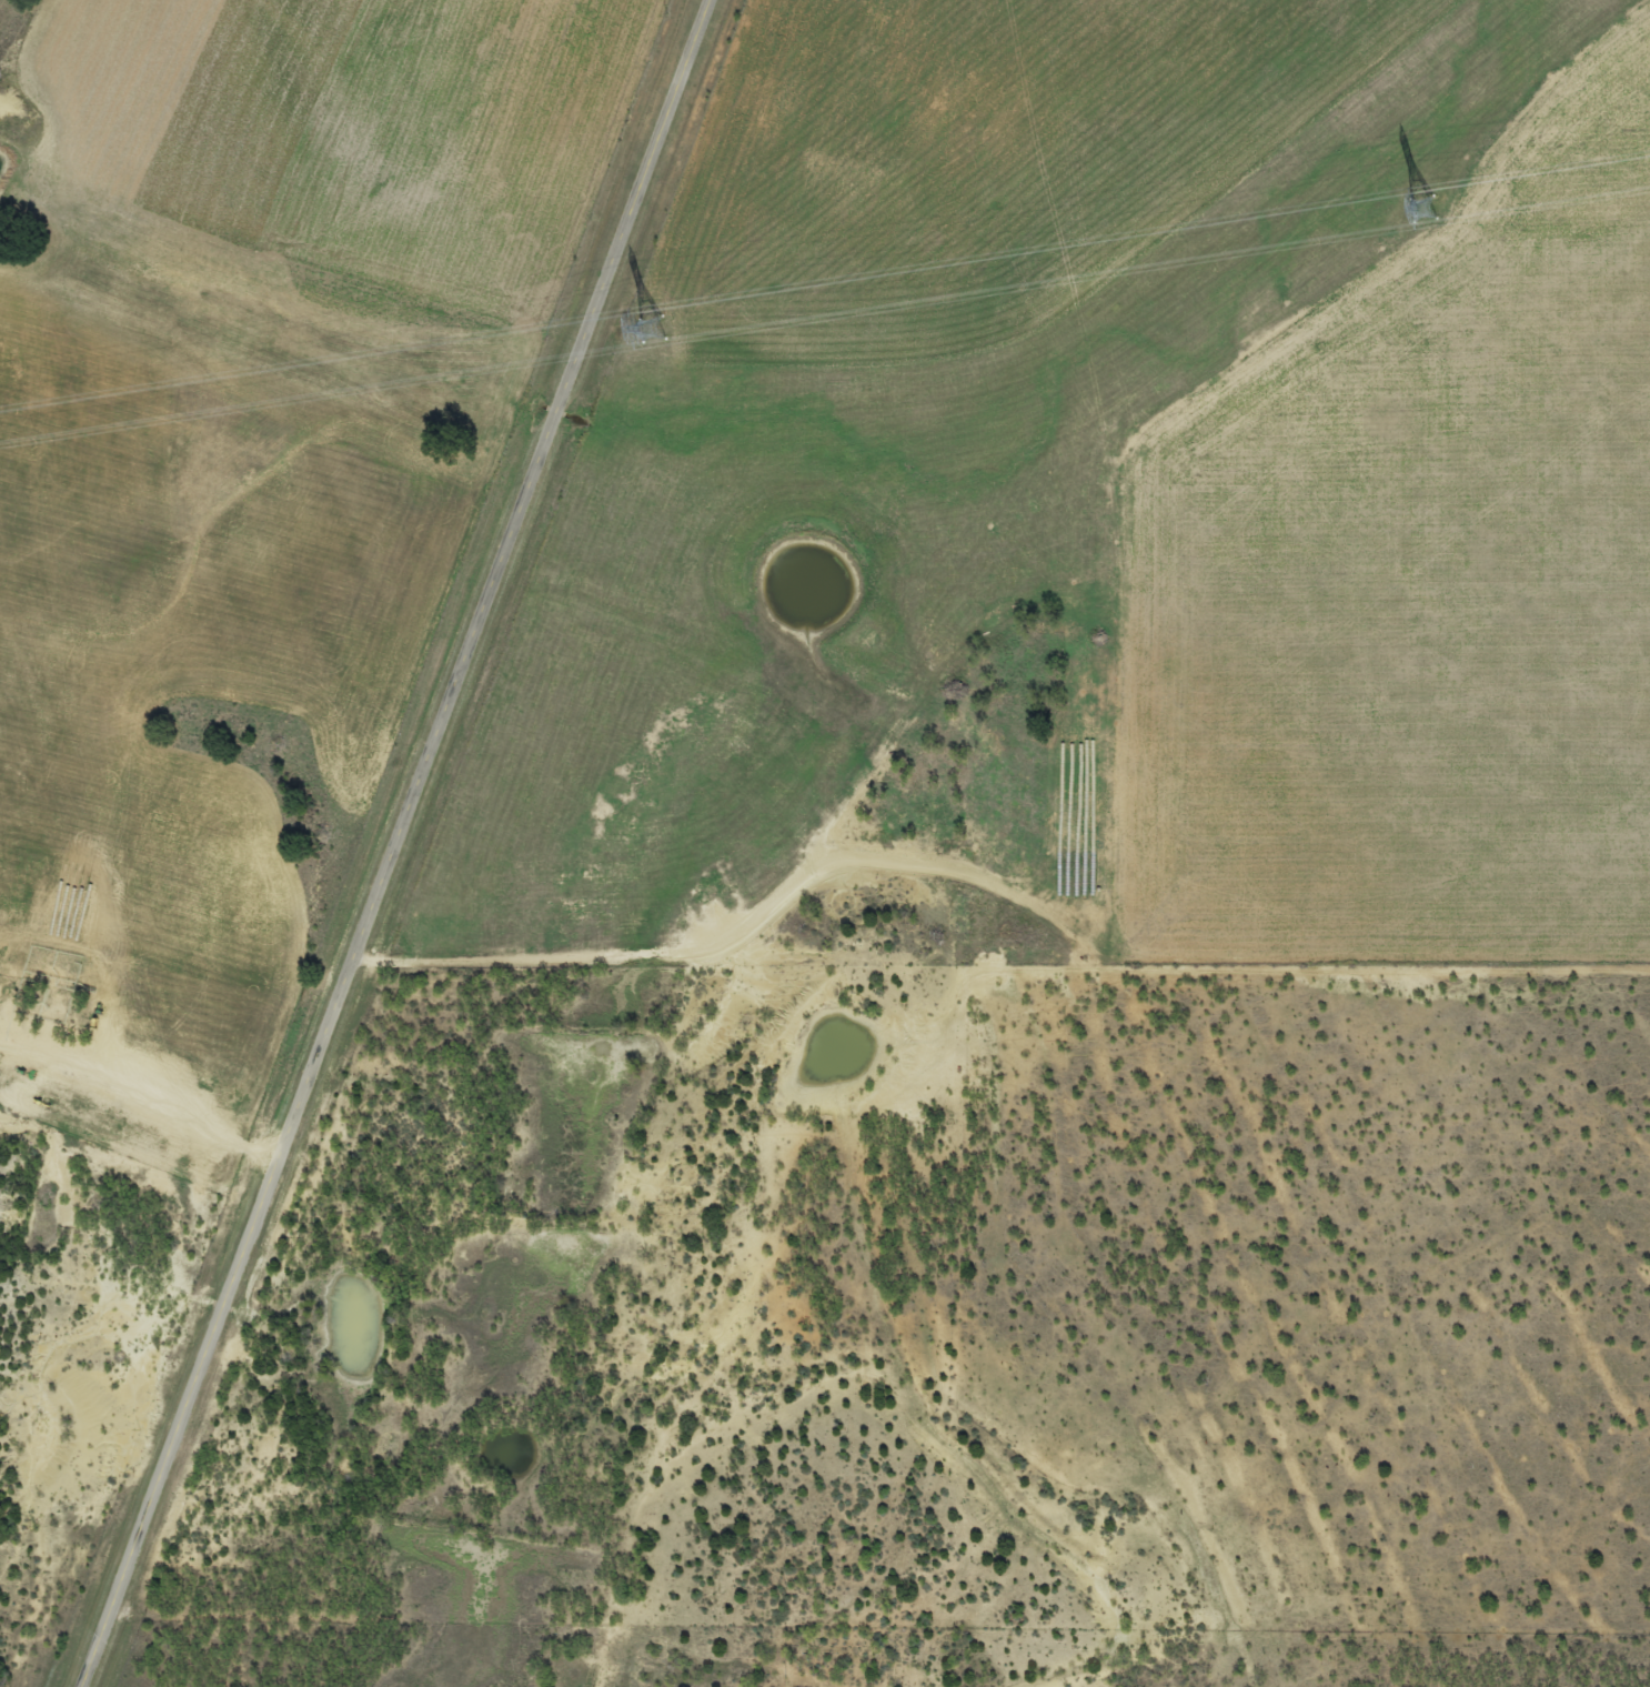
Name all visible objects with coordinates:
power tower: (1422, 211)
power tower: (654, 331)
road: (398, 843)
road: (674, 960)

